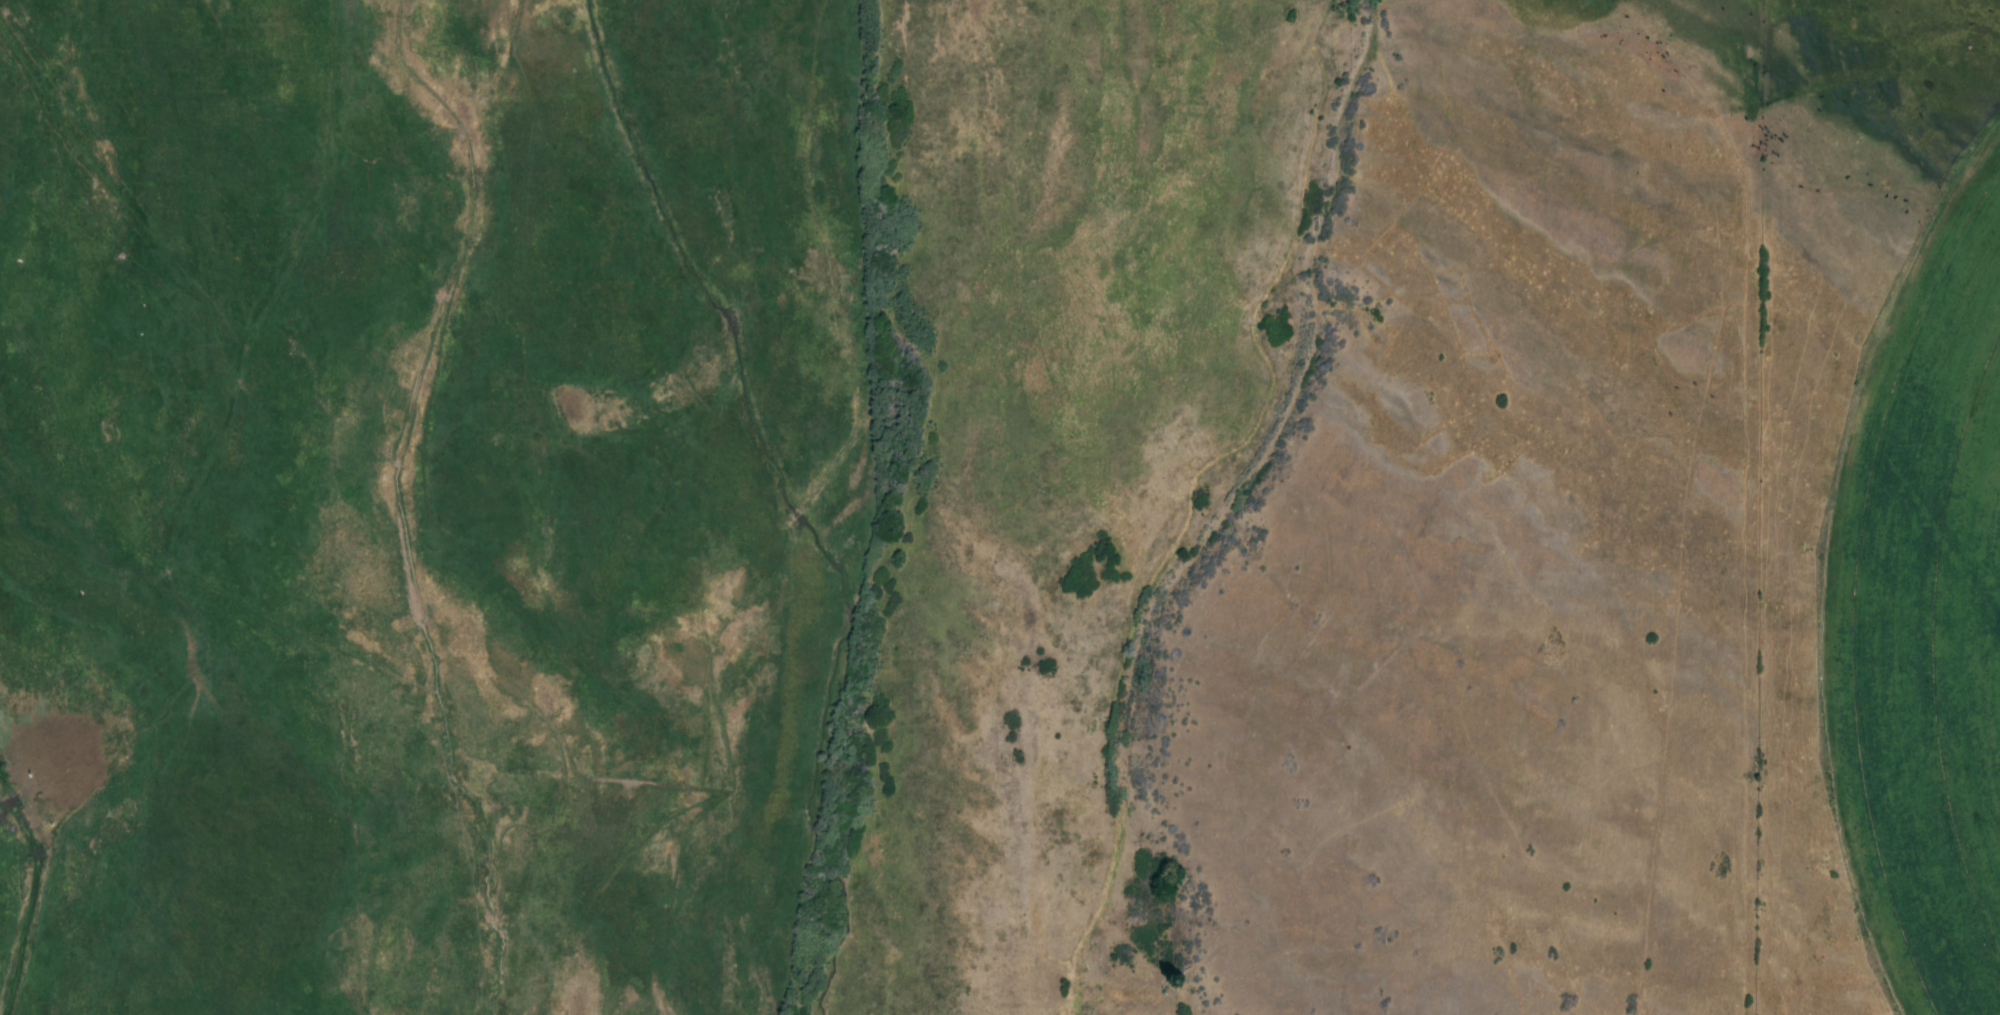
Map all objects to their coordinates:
crop: (1925, 616)

